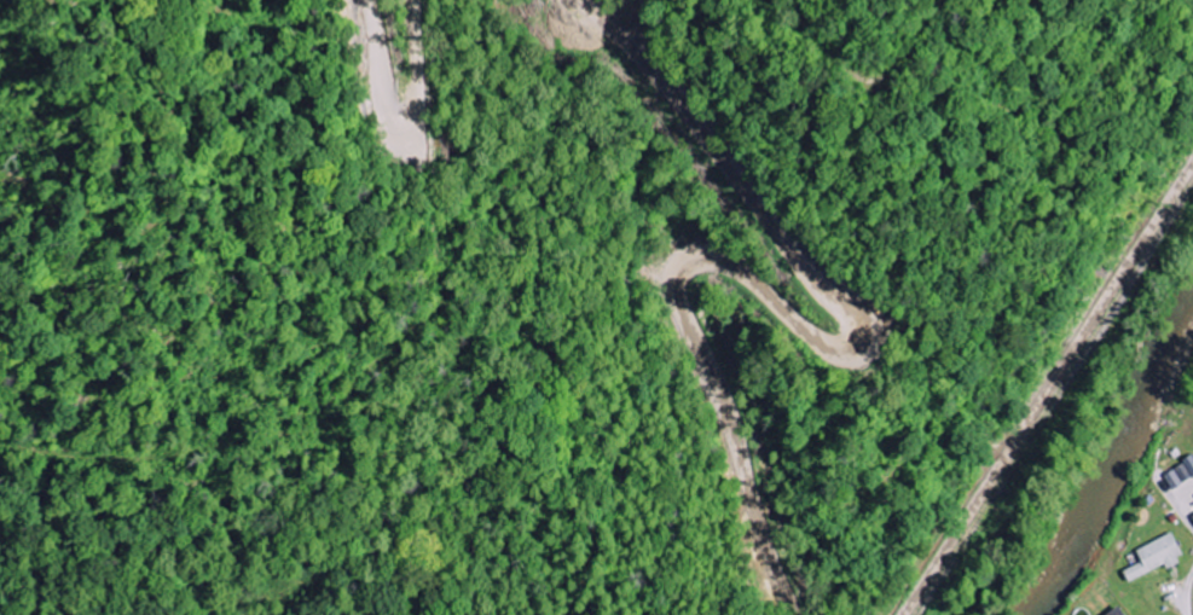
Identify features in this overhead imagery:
road: (505, 216)
road: (734, 265)
railway: (1048, 393)
river: (1114, 456)
building: (1180, 475)
building: (1157, 557)
building: (1119, 611)

